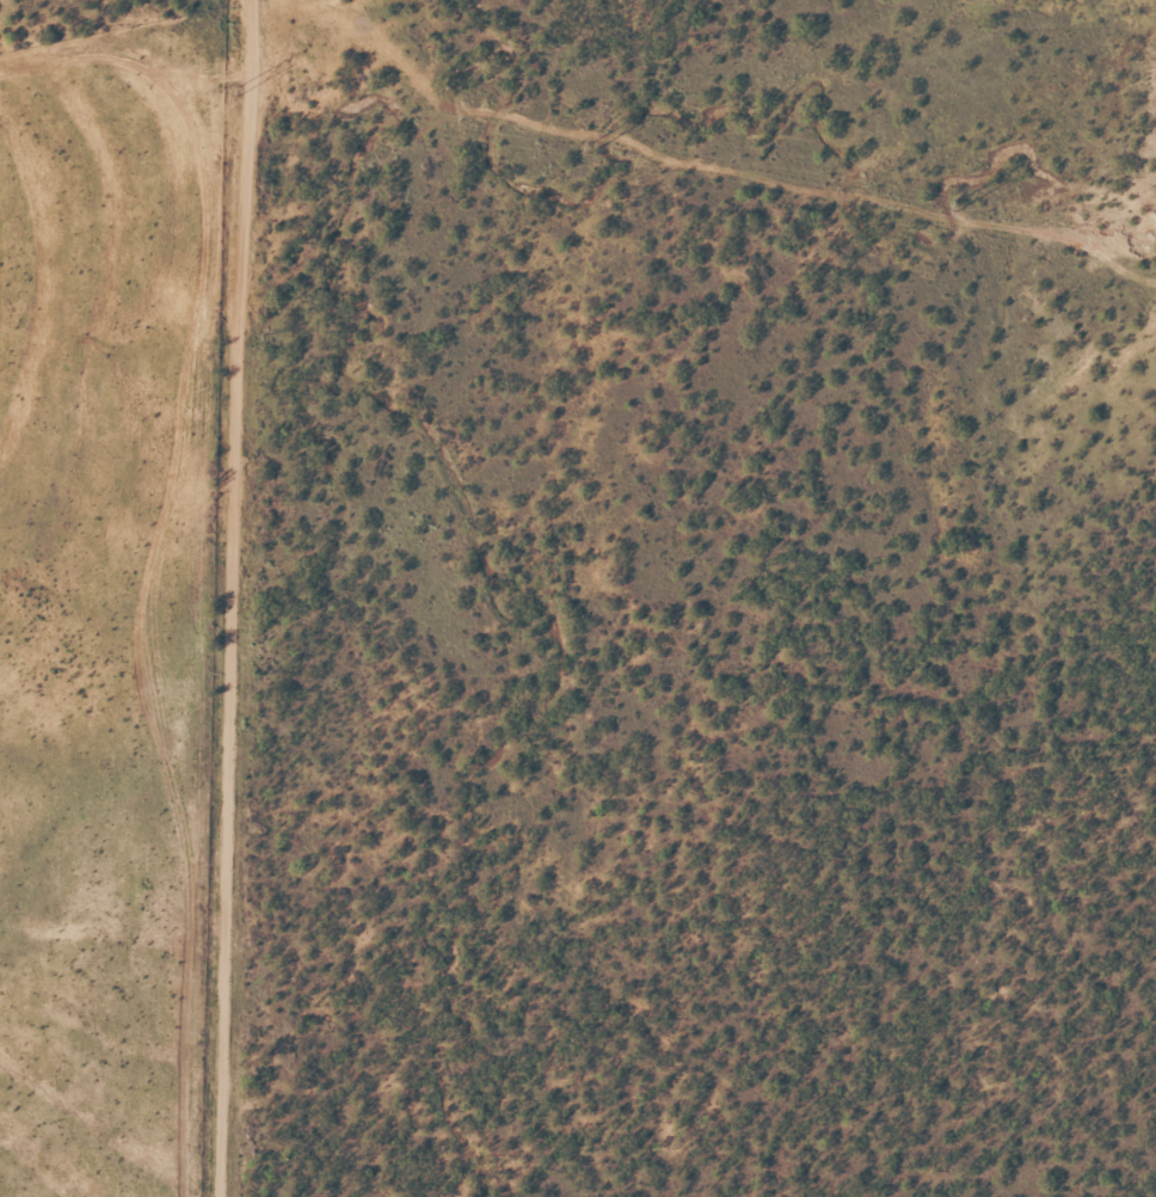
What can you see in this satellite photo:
power tower: (239, 90)
power tower: (590, 145)
power tower: (957, 203)
road: (226, 598)

